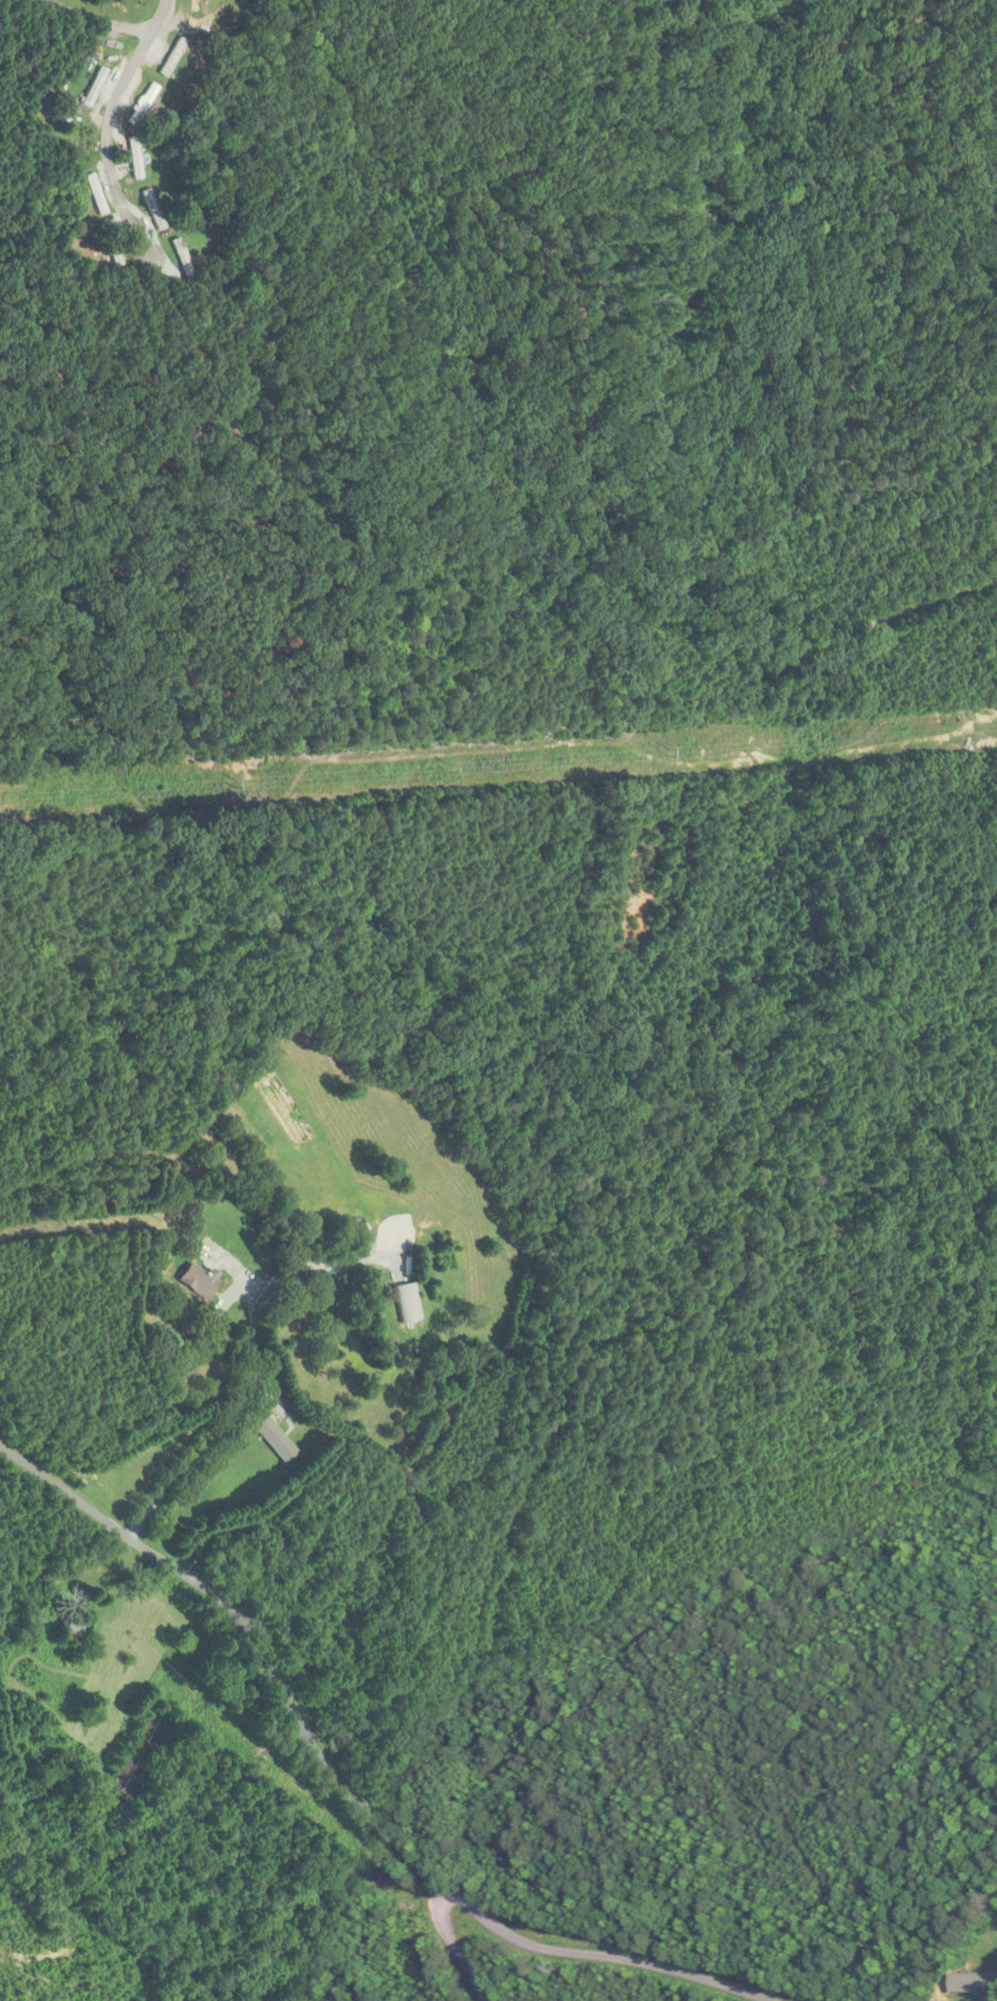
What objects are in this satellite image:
building: (193, 6)
road: (92, 18)
building: (170, 57)
building: (92, 88)
building: (140, 104)
road: (105, 125)
building: (83, 139)
building: (133, 158)
building: (93, 195)
building: (110, 246)
building: (181, 261)
power tower: (665, 747)
building: (196, 1280)
building: (404, 1303)
road: (241, 1386)
building: (71, 1633)
building: (137, 1755)
road: (345, 1788)
road: (453, 1945)
building: (975, 1982)

